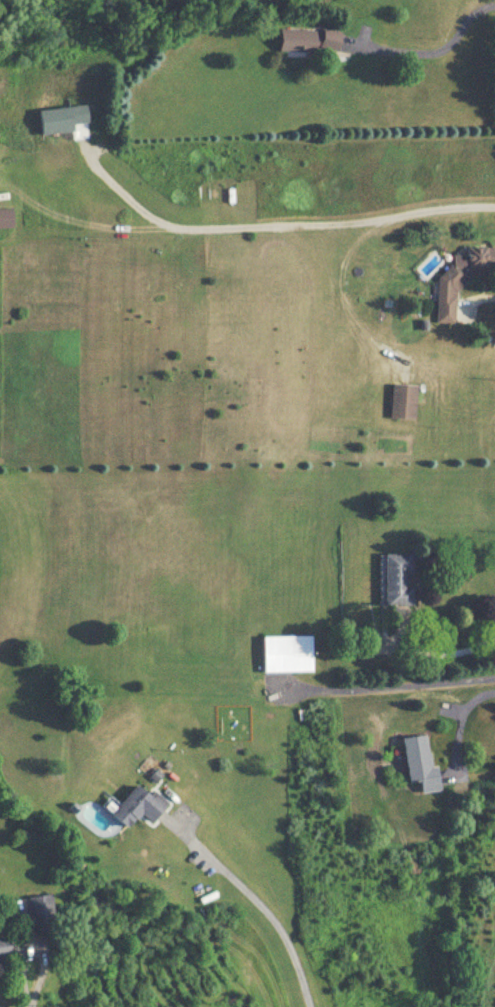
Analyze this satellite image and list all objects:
building: (316, 40)
road: (437, 50)
building: (8, 218)
road: (265, 219)
building: (462, 278)
building: (406, 400)
building: (401, 578)
road: (445, 651)
building: (290, 653)
road: (385, 686)
road: (460, 719)
building: (423, 763)
building: (139, 805)
road: (264, 909)
building: (6, 946)
road: (30, 992)

